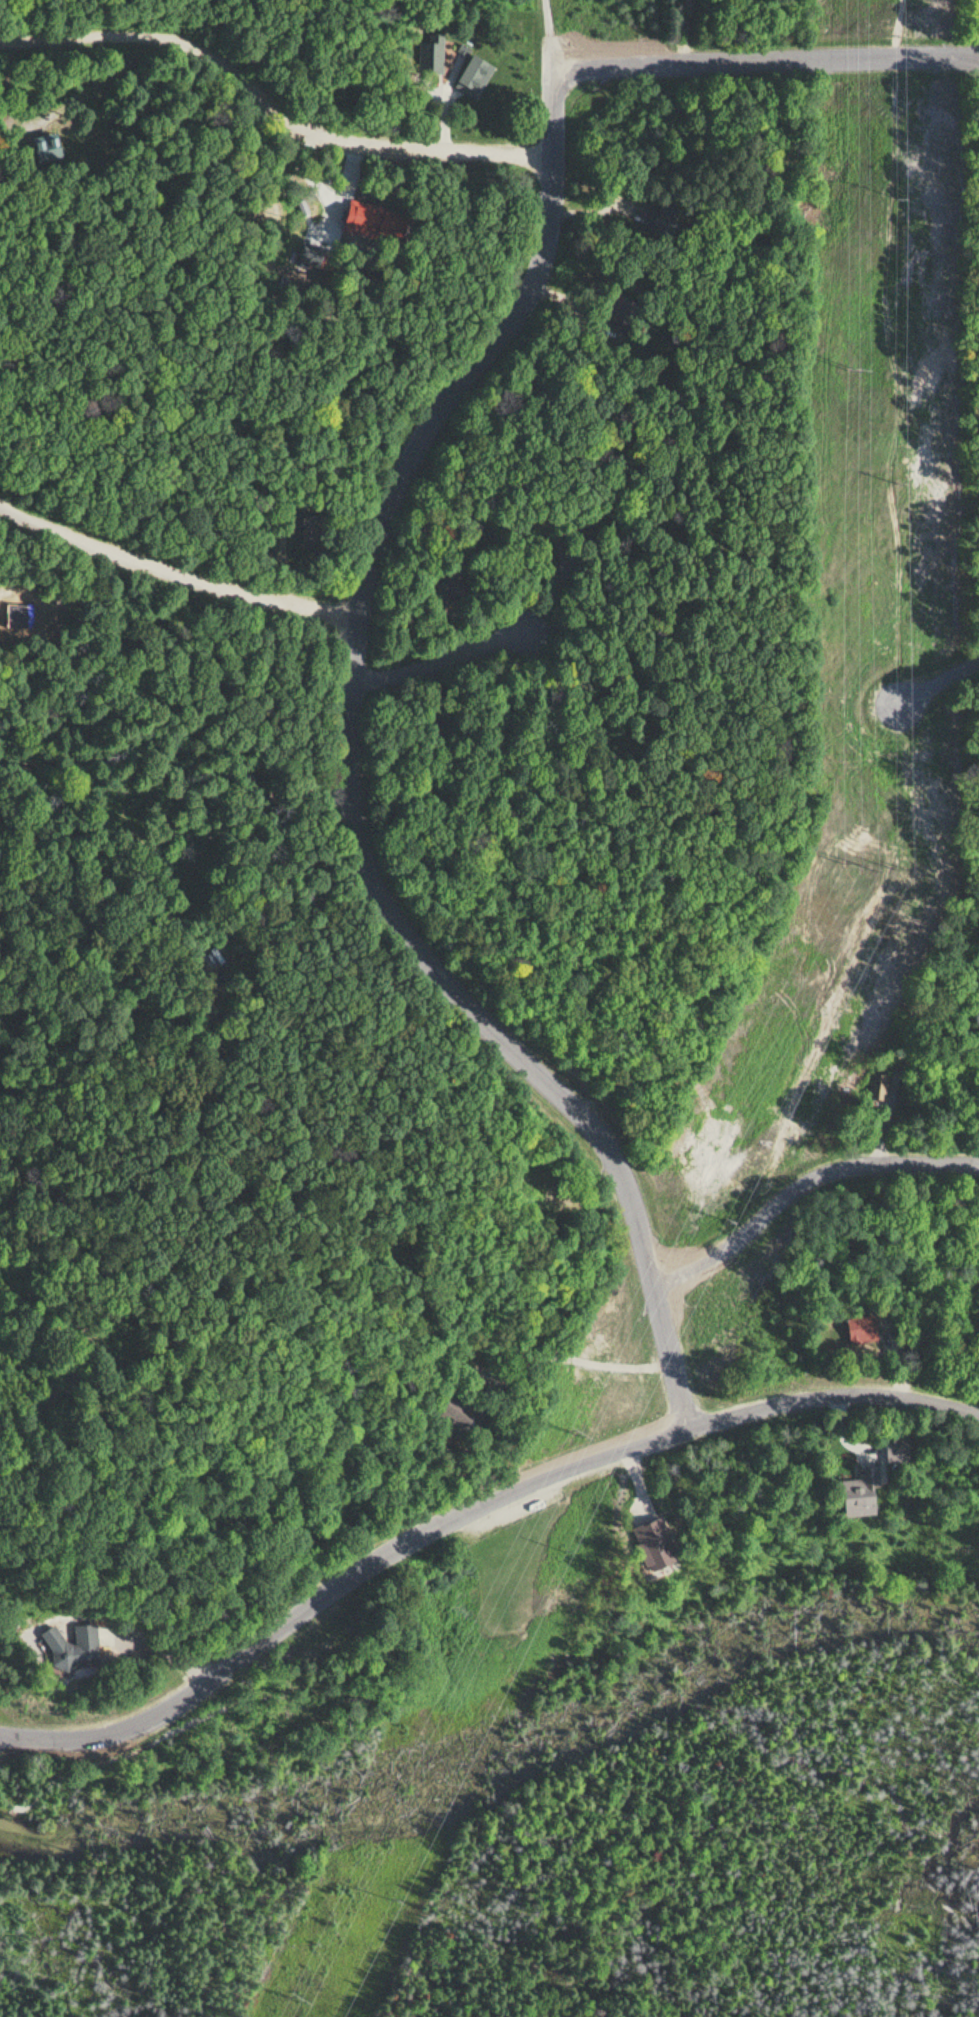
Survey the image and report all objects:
road: (553, 37)
road: (768, 55)
building: (471, 77)
road: (265, 118)
building: (659, 224)
power tower: (856, 370)
building: (309, 530)
road: (173, 569)
road: (441, 655)
road: (937, 681)
road: (354, 775)
power tower: (863, 862)
building: (879, 1087)
road: (804, 1183)
building: (447, 1414)
power tower: (579, 1429)
building: (891, 1450)
building: (850, 1492)
road: (467, 1509)
building: (65, 1647)
river: (500, 1752)
power tower: (297, 1993)

